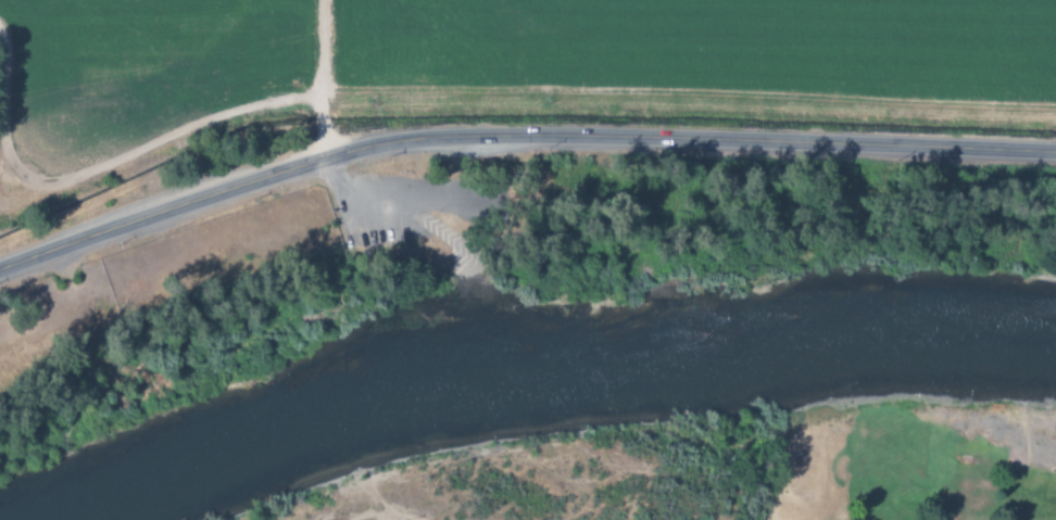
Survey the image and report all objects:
crop: (690, 55)
crop: (136, 74)
road: (517, 135)
river: (531, 382)

